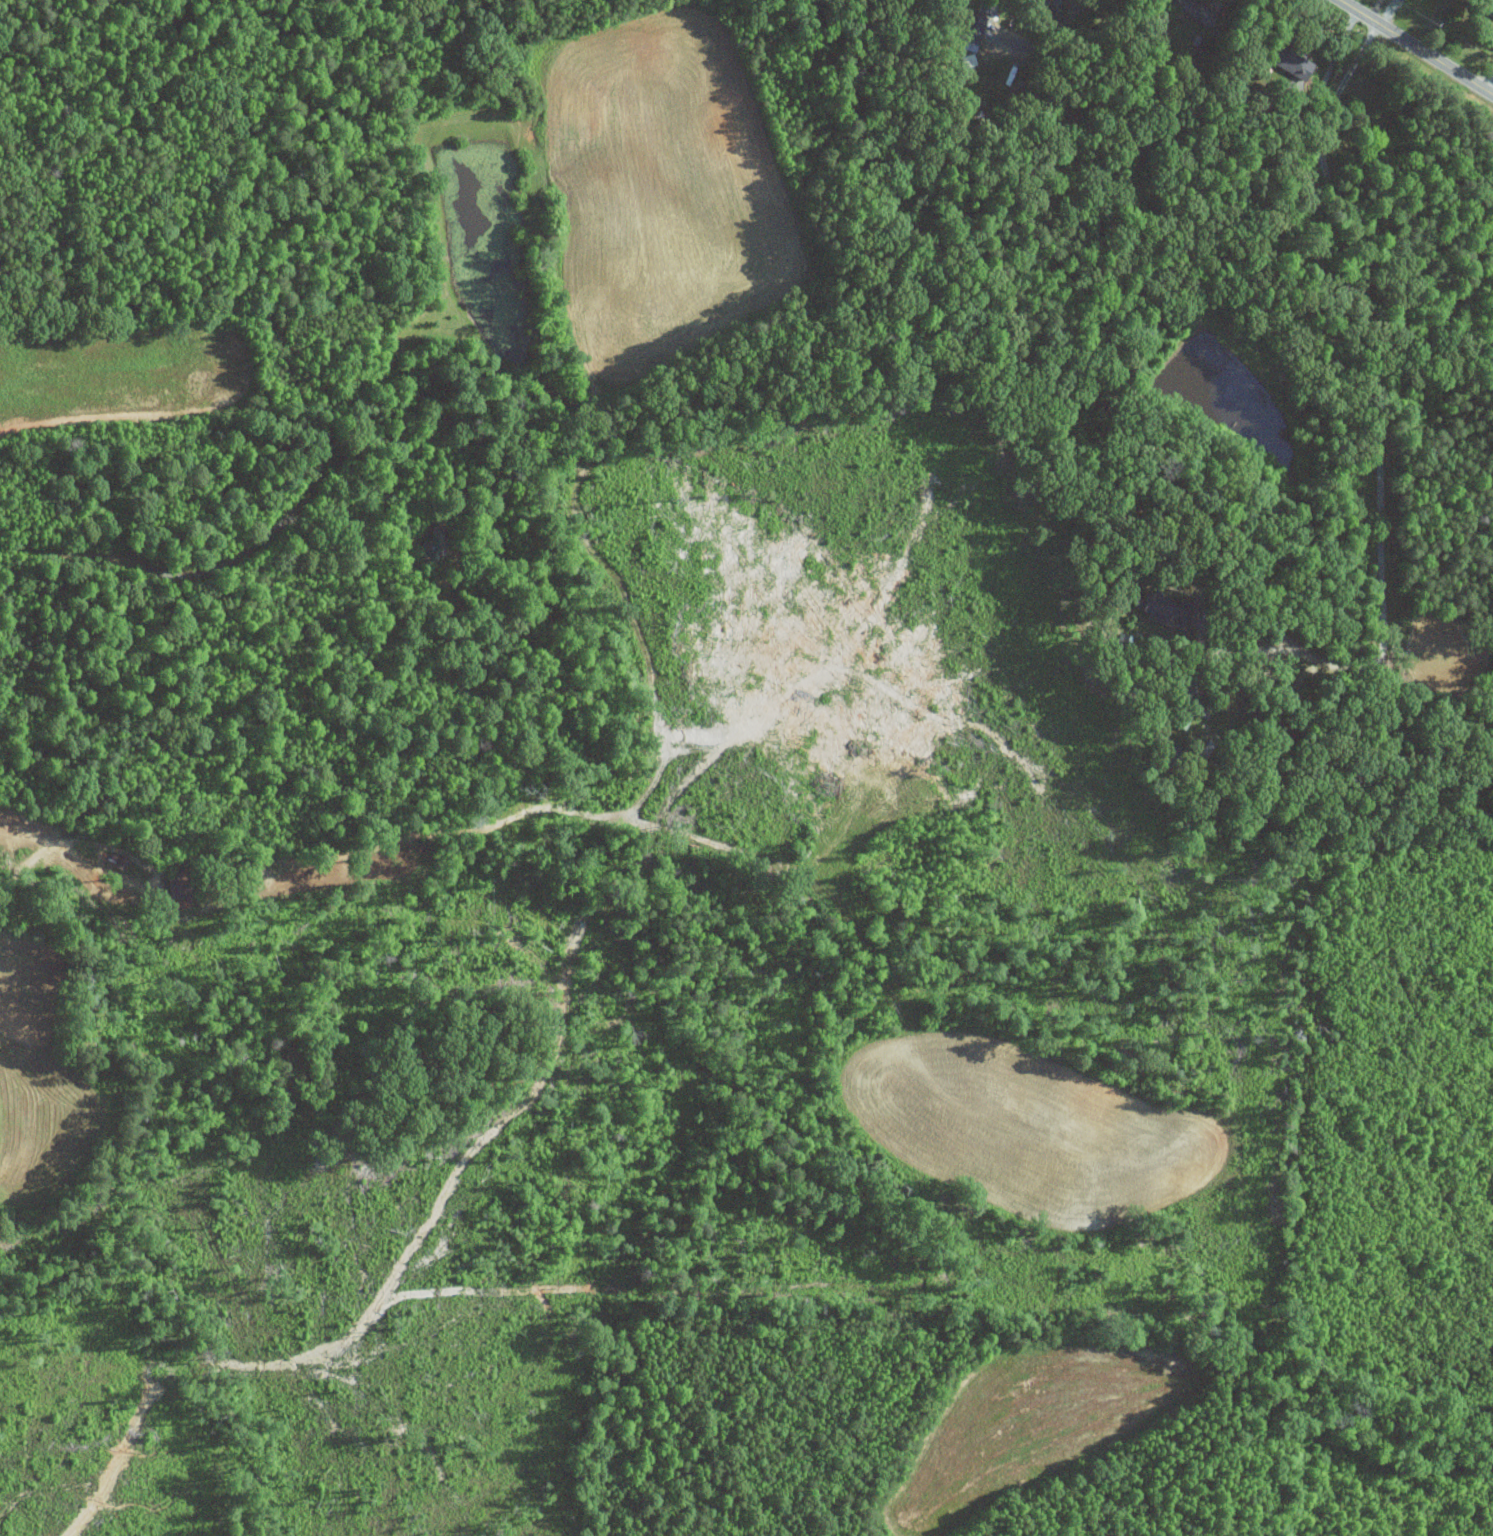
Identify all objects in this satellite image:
road: (1389, 13)
road: (1054, 35)
road: (1416, 47)
road: (1331, 61)
road: (1488, 81)
road: (1378, 489)
building: (1165, 612)
building: (119, 861)

